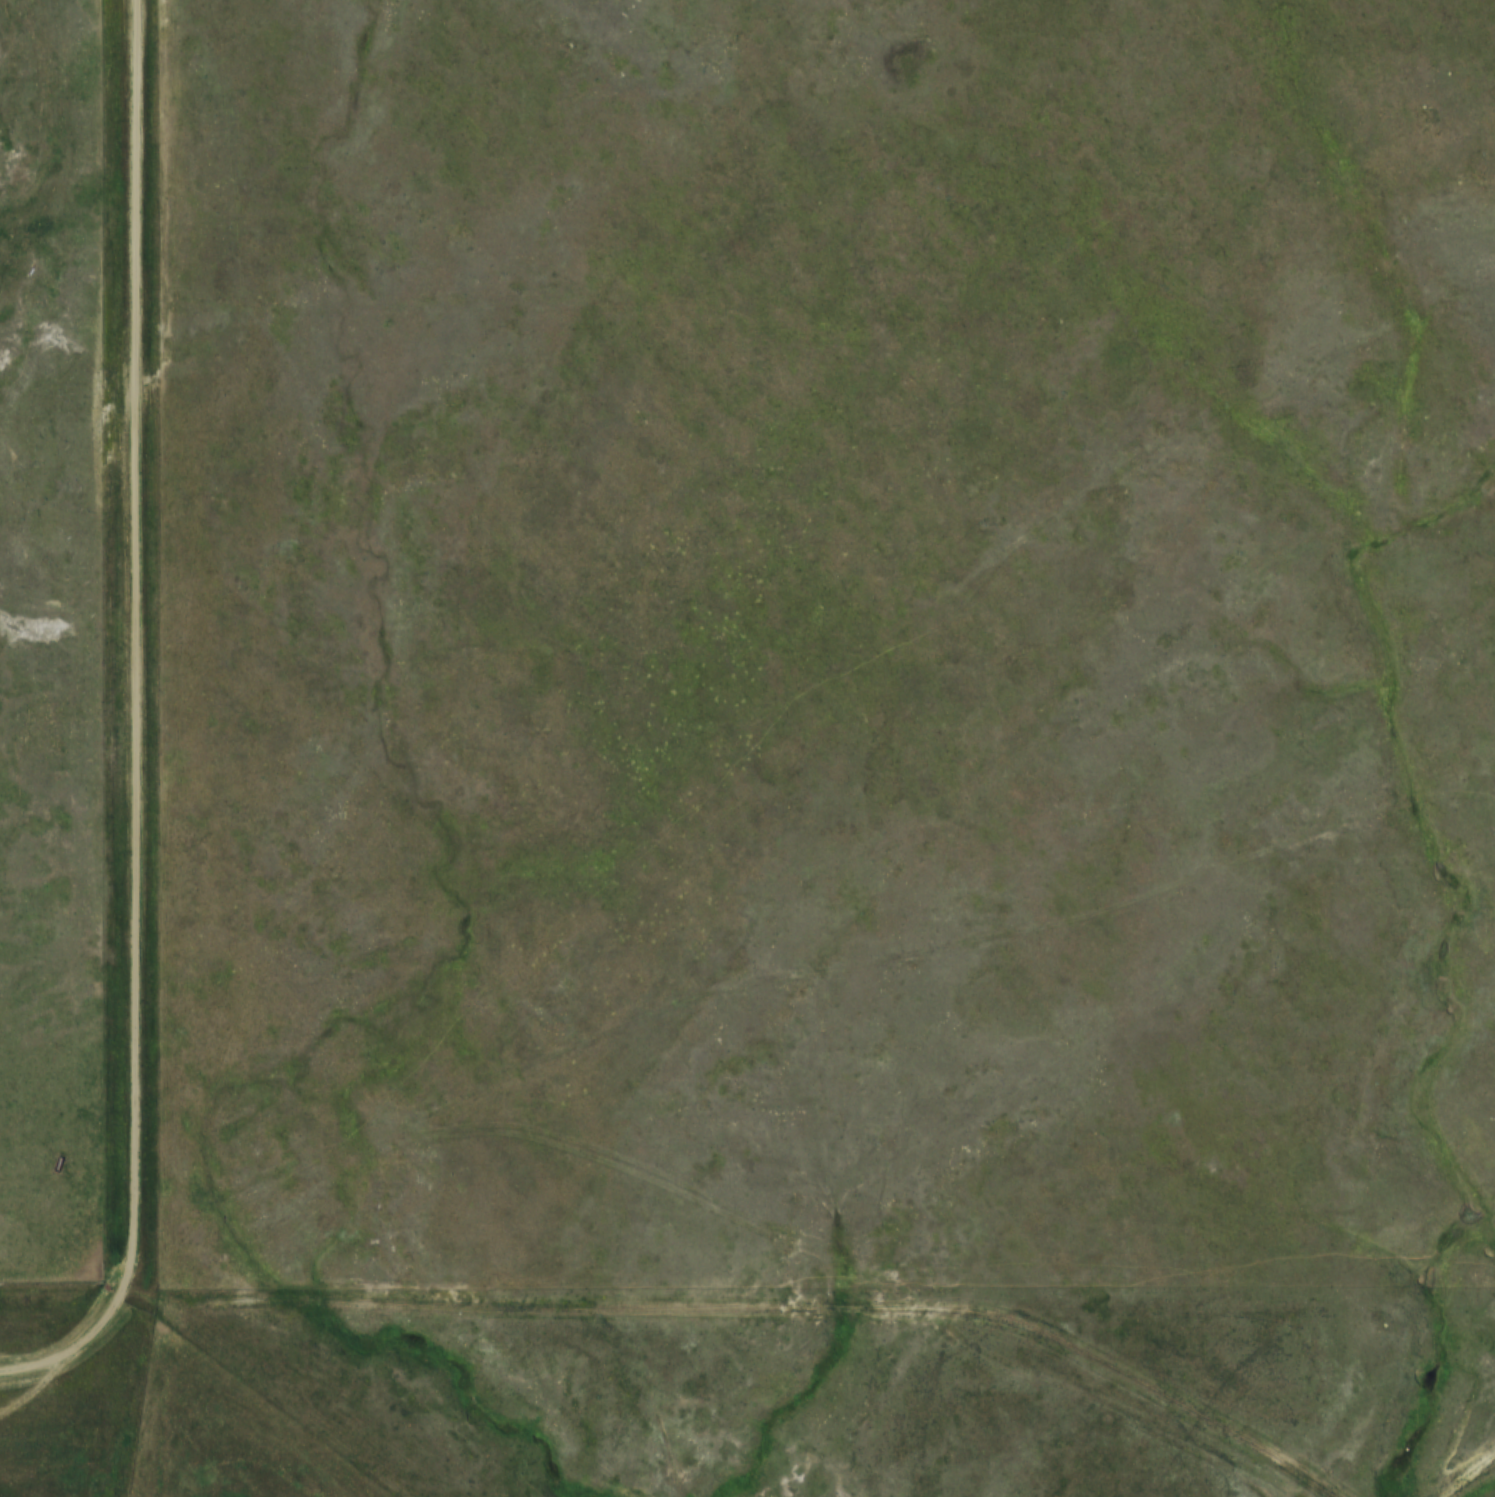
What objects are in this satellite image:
road: (126, 643)

